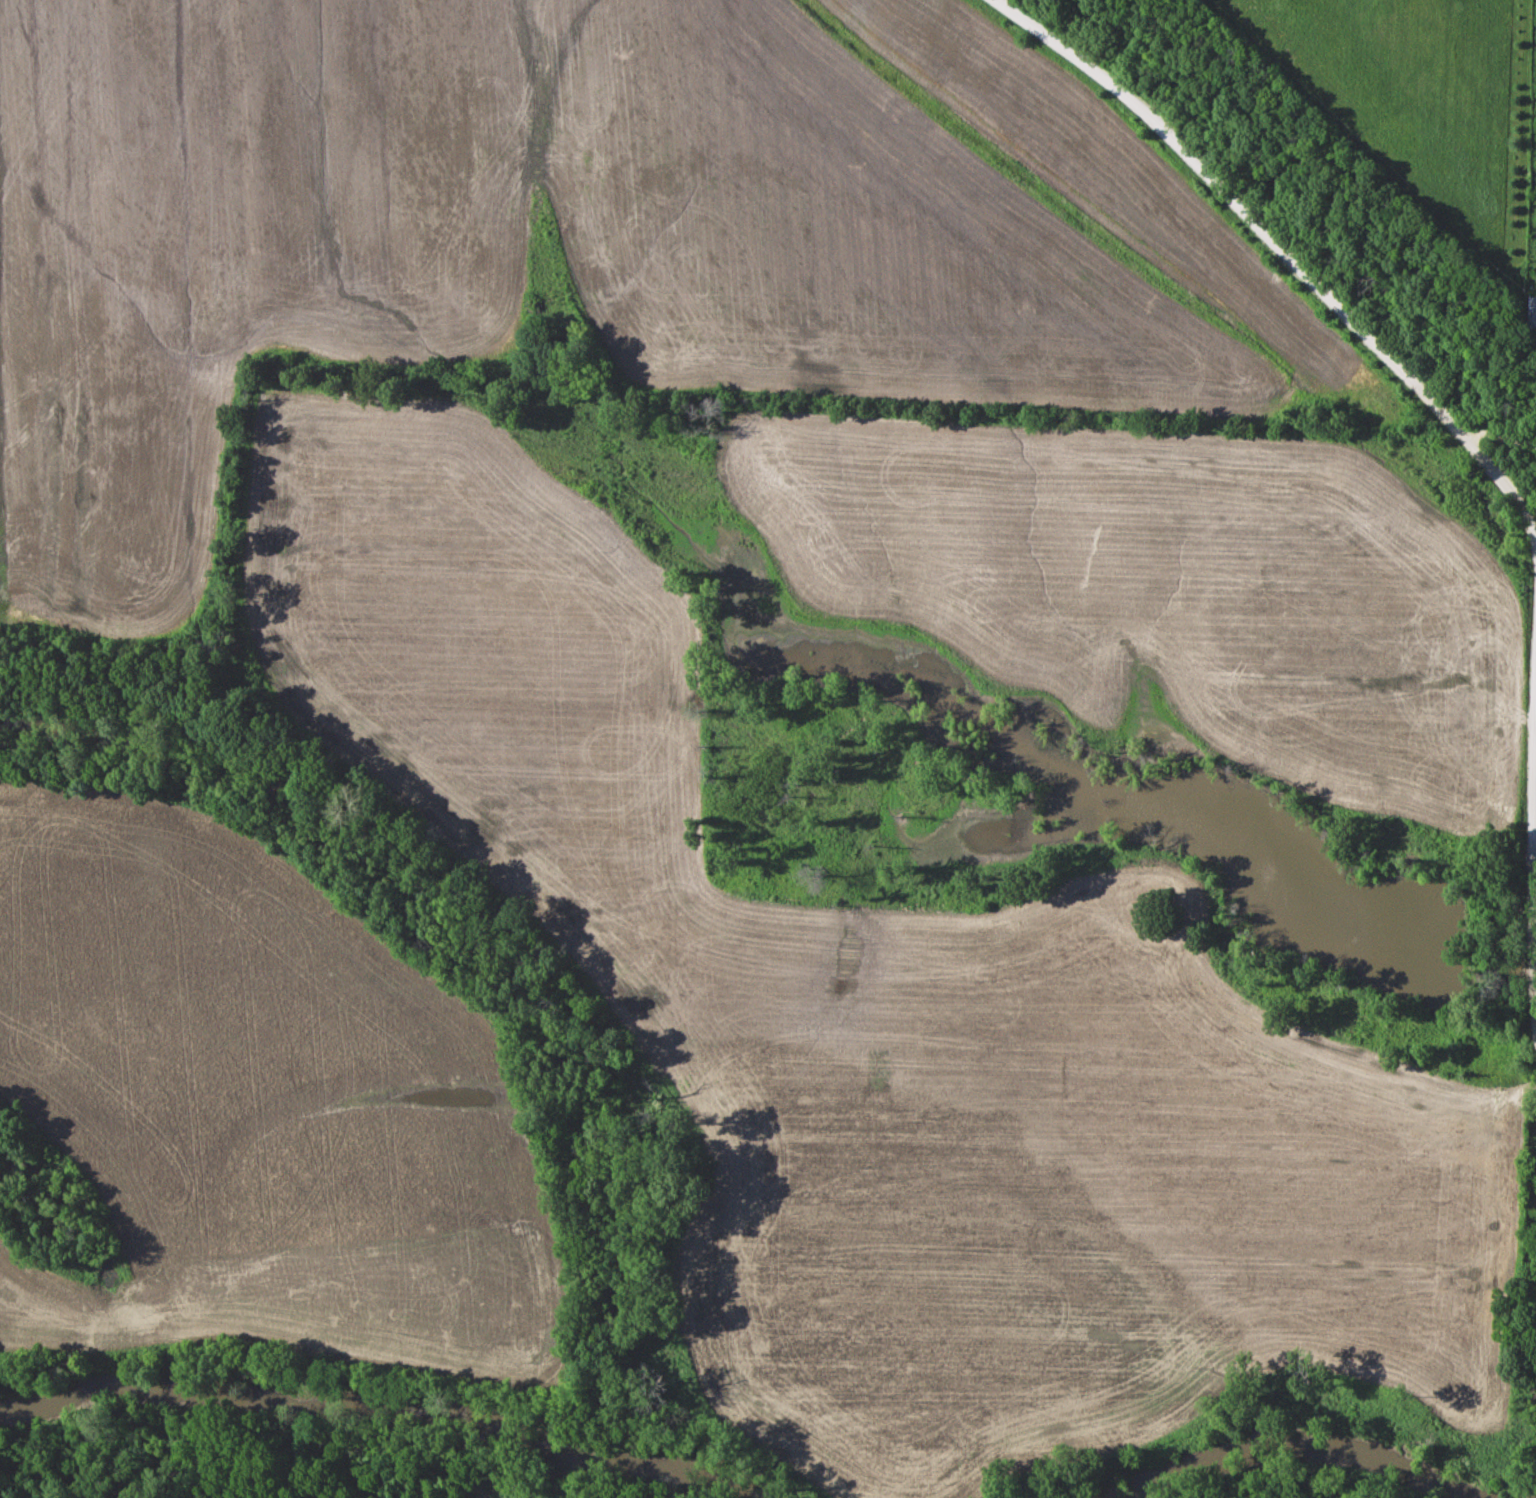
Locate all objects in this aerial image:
road: (1275, 251)
building: (1533, 313)
road: (1499, 440)
road: (1534, 858)
river: (386, 1407)
river: (1296, 1448)

